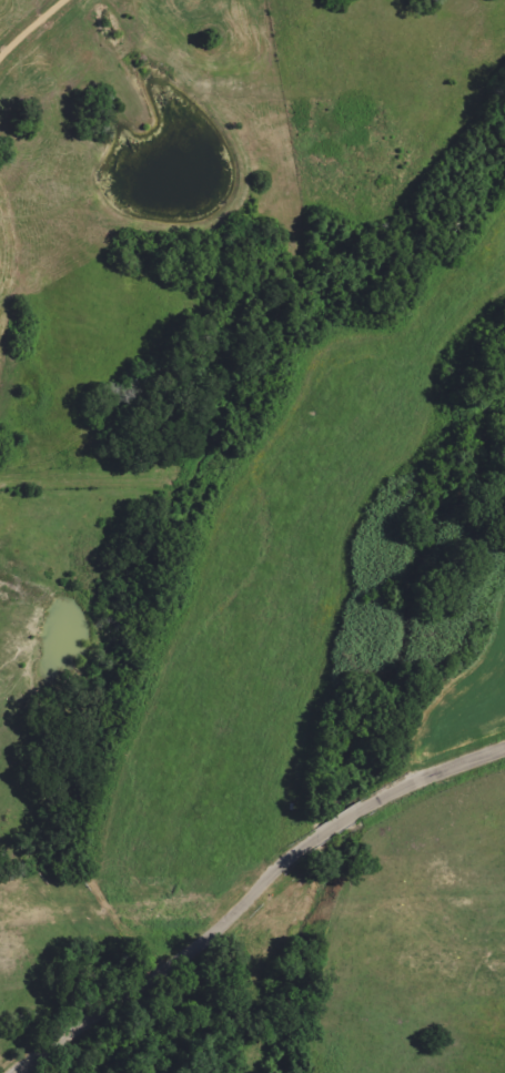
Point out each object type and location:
road: (257, 894)

